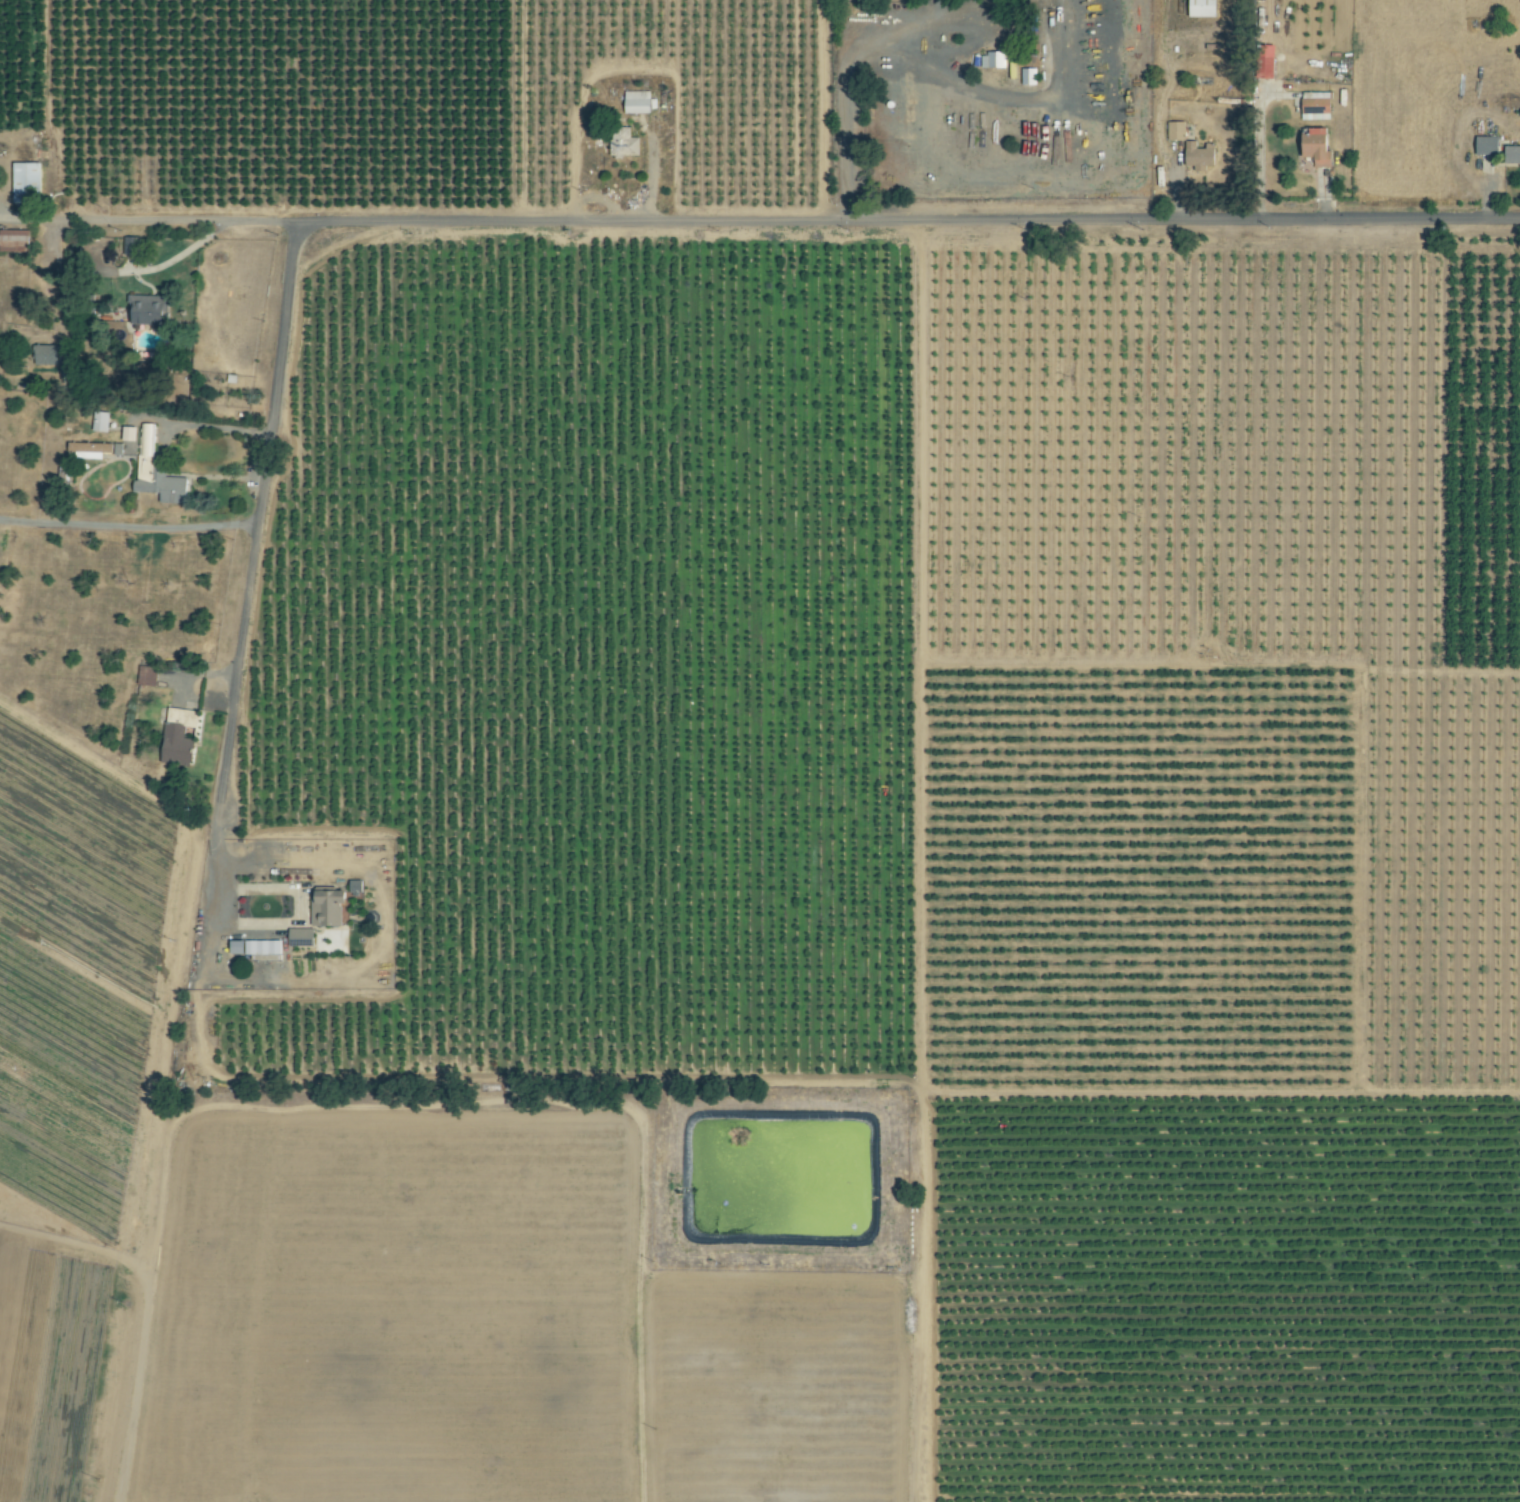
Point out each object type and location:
building: (1204, 8)
road: (931, 9)
road: (992, 34)
building: (994, 59)
building: (1029, 76)
road: (840, 94)
road: (995, 94)
building: (638, 102)
building: (1317, 103)
building: (1177, 130)
building: (624, 142)
building: (1319, 145)
building: (1487, 145)
building: (1512, 153)
building: (1200, 156)
road: (1001, 177)
building: (26, 181)
road: (155, 221)
road: (914, 221)
building: (15, 240)
road: (181, 255)
building: (150, 310)
building: (45, 354)
building: (100, 421)
road: (213, 427)
building: (129, 433)
building: (96, 449)
building: (156, 470)
road: (127, 523)
road: (253, 528)
building: (178, 736)
building: (328, 907)
building: (301, 937)
building: (256, 947)
road: (361, 980)
road: (143, 1310)

